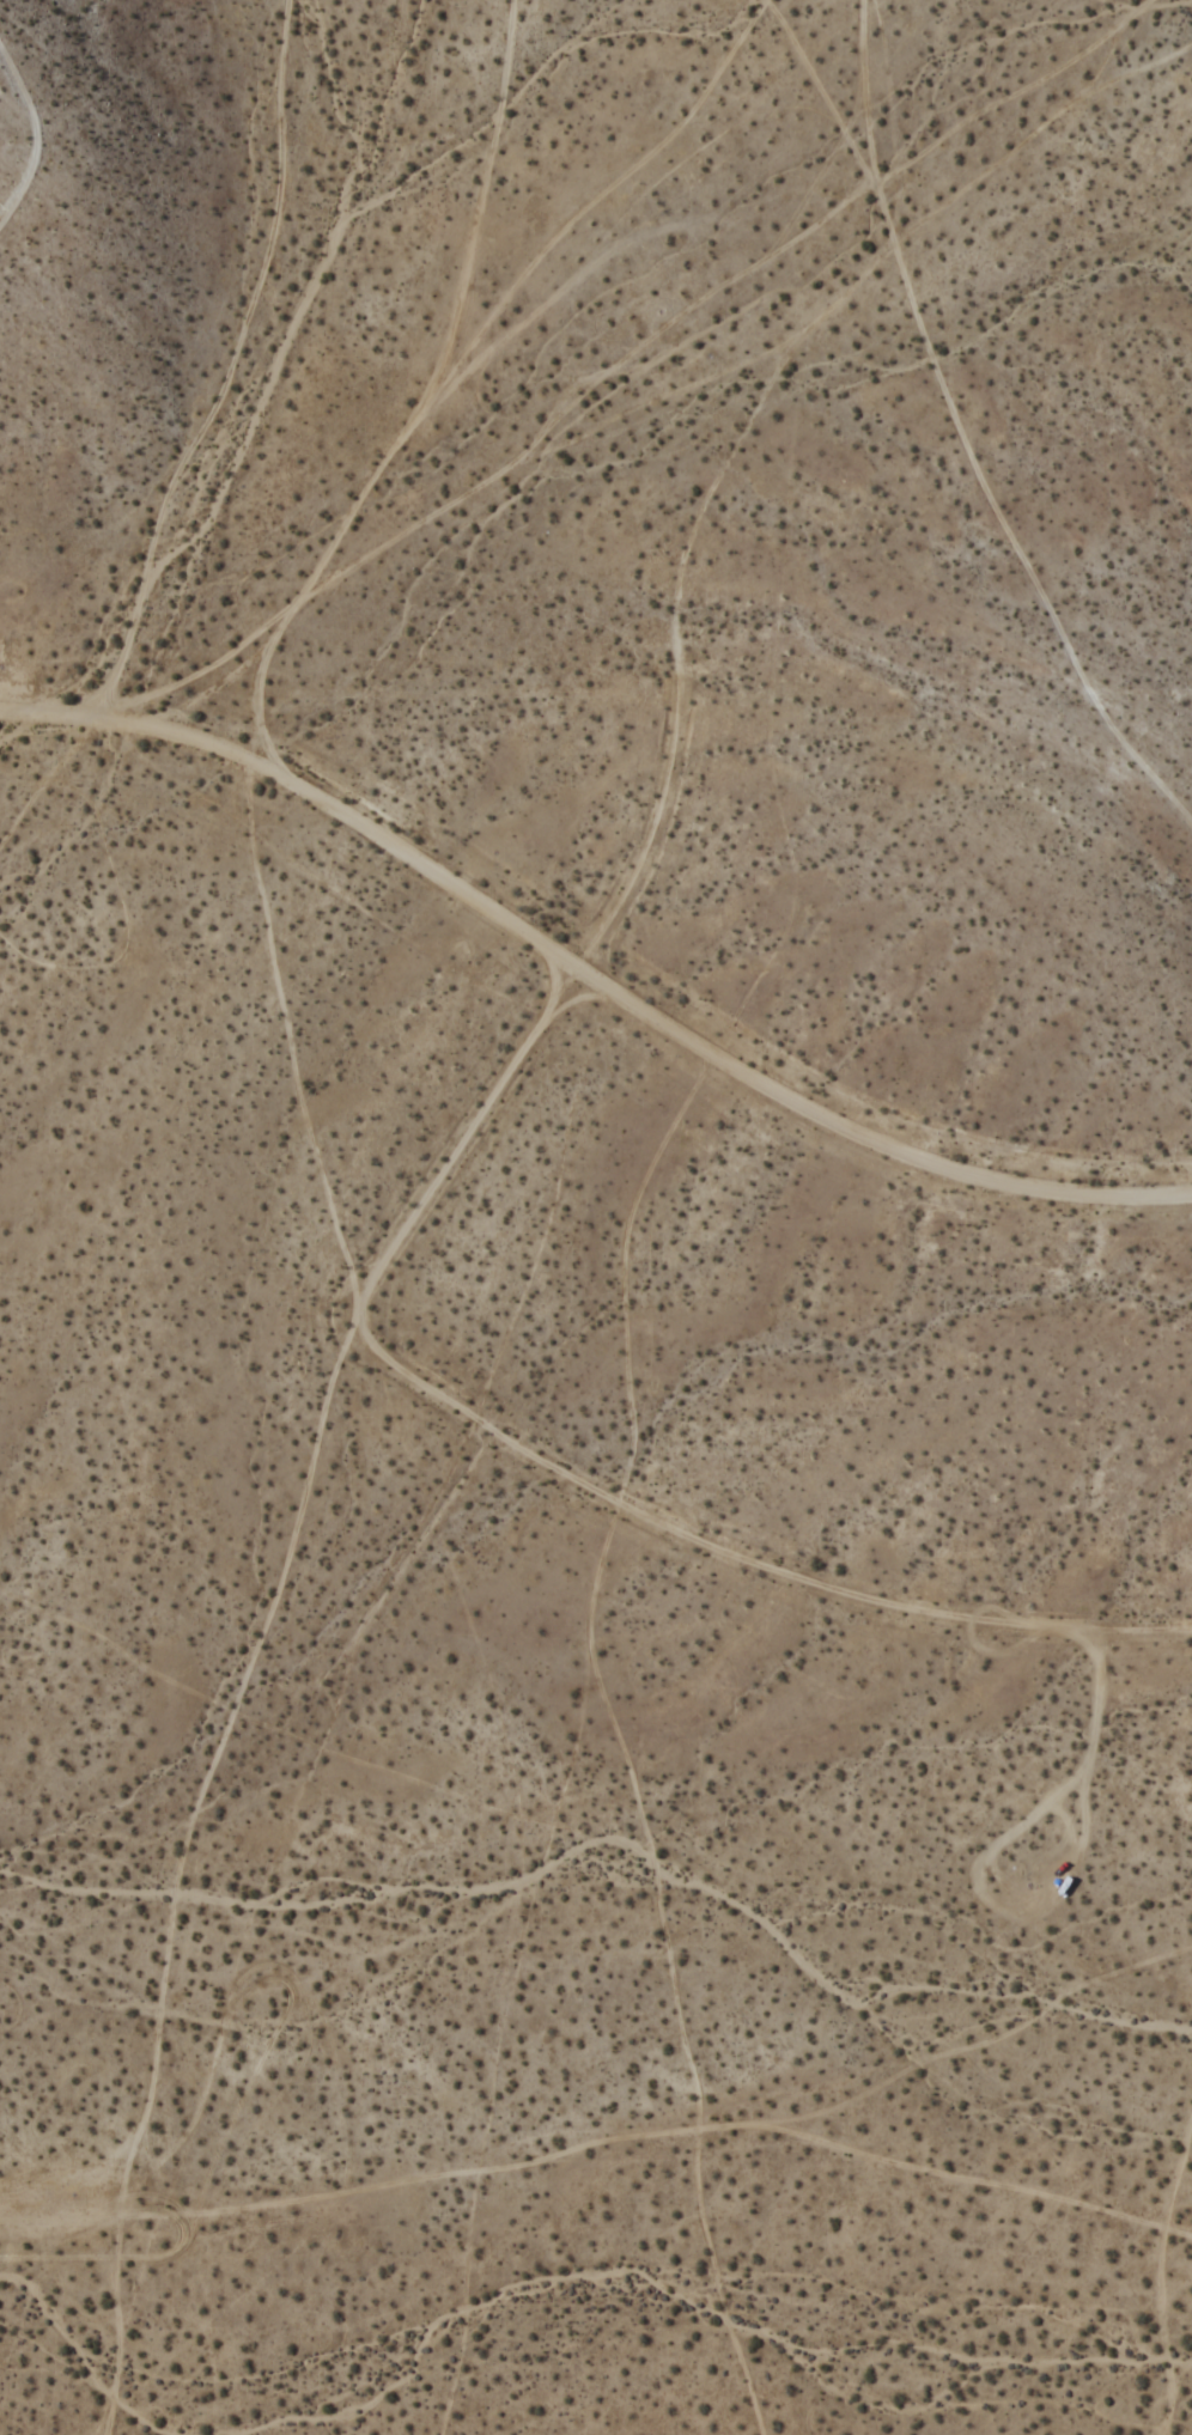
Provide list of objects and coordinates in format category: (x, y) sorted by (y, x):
road: (20, 187)
road: (589, 981)
road: (466, 1148)
road: (746, 1559)

